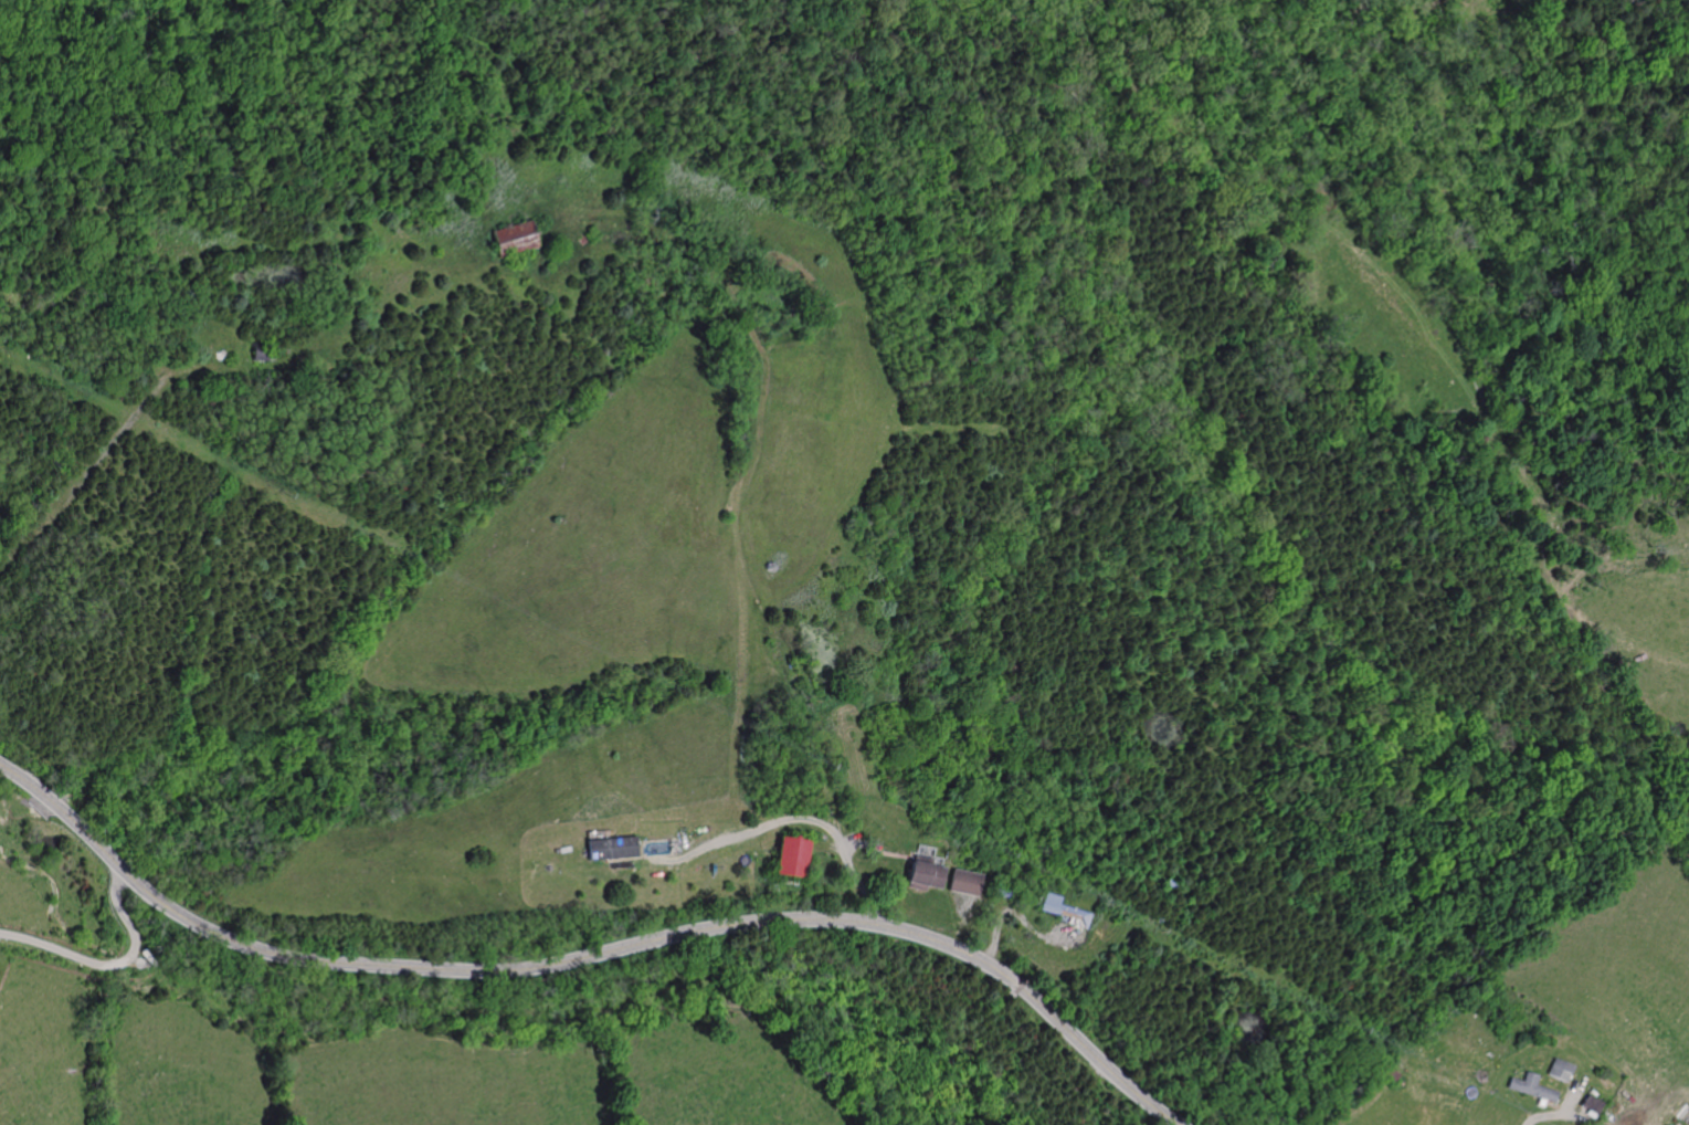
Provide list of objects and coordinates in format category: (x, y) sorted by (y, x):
building: (511, 236)
building: (584, 238)
building: (260, 350)
road: (96, 462)
building: (767, 566)
road: (787, 819)
road: (858, 842)
building: (609, 847)
building: (787, 855)
building: (920, 873)
building: (961, 882)
building: (1162, 884)
building: (994, 892)
building: (1003, 892)
building: (1059, 910)
road: (1014, 914)
road: (592, 955)
road: (113, 964)
building: (1553, 1070)
building: (1385, 1073)
building: (1527, 1087)
building: (1585, 1104)
road: (1554, 1114)

